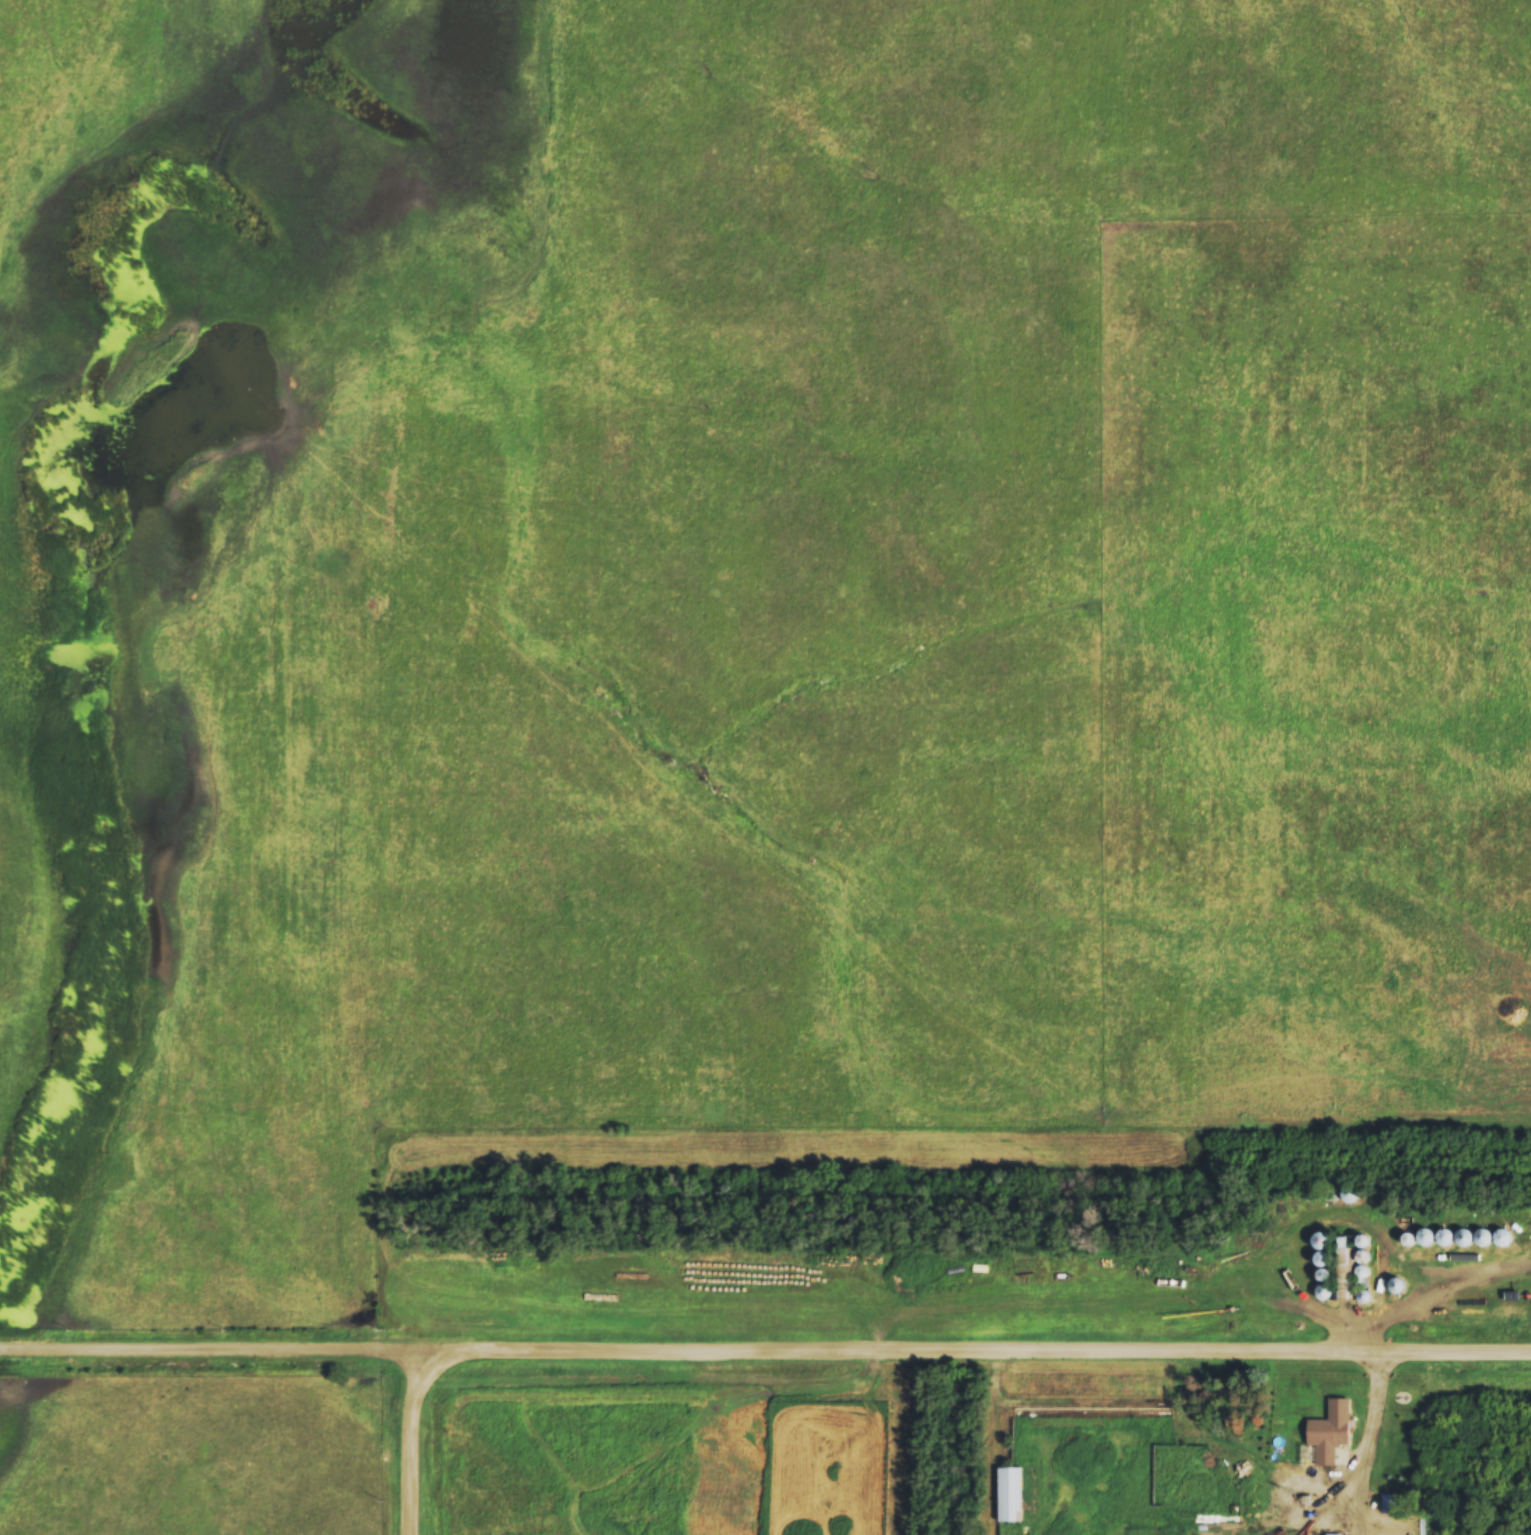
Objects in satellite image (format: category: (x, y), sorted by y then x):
building: (1351, 1194)
building: (1447, 1238)
building: (1334, 1266)
building: (1364, 1274)
building: (1398, 1286)
road: (1419, 1299)
road: (1379, 1324)
road: (765, 1350)
road: (1173, 1416)
building: (1327, 1438)
road: (1364, 1439)
road: (413, 1443)
building: (1396, 1467)
road: (1296, 1473)
building: (1010, 1495)
building: (1293, 1495)
building: (1389, 1504)
road: (1370, 1527)
building: (1332, 1534)

